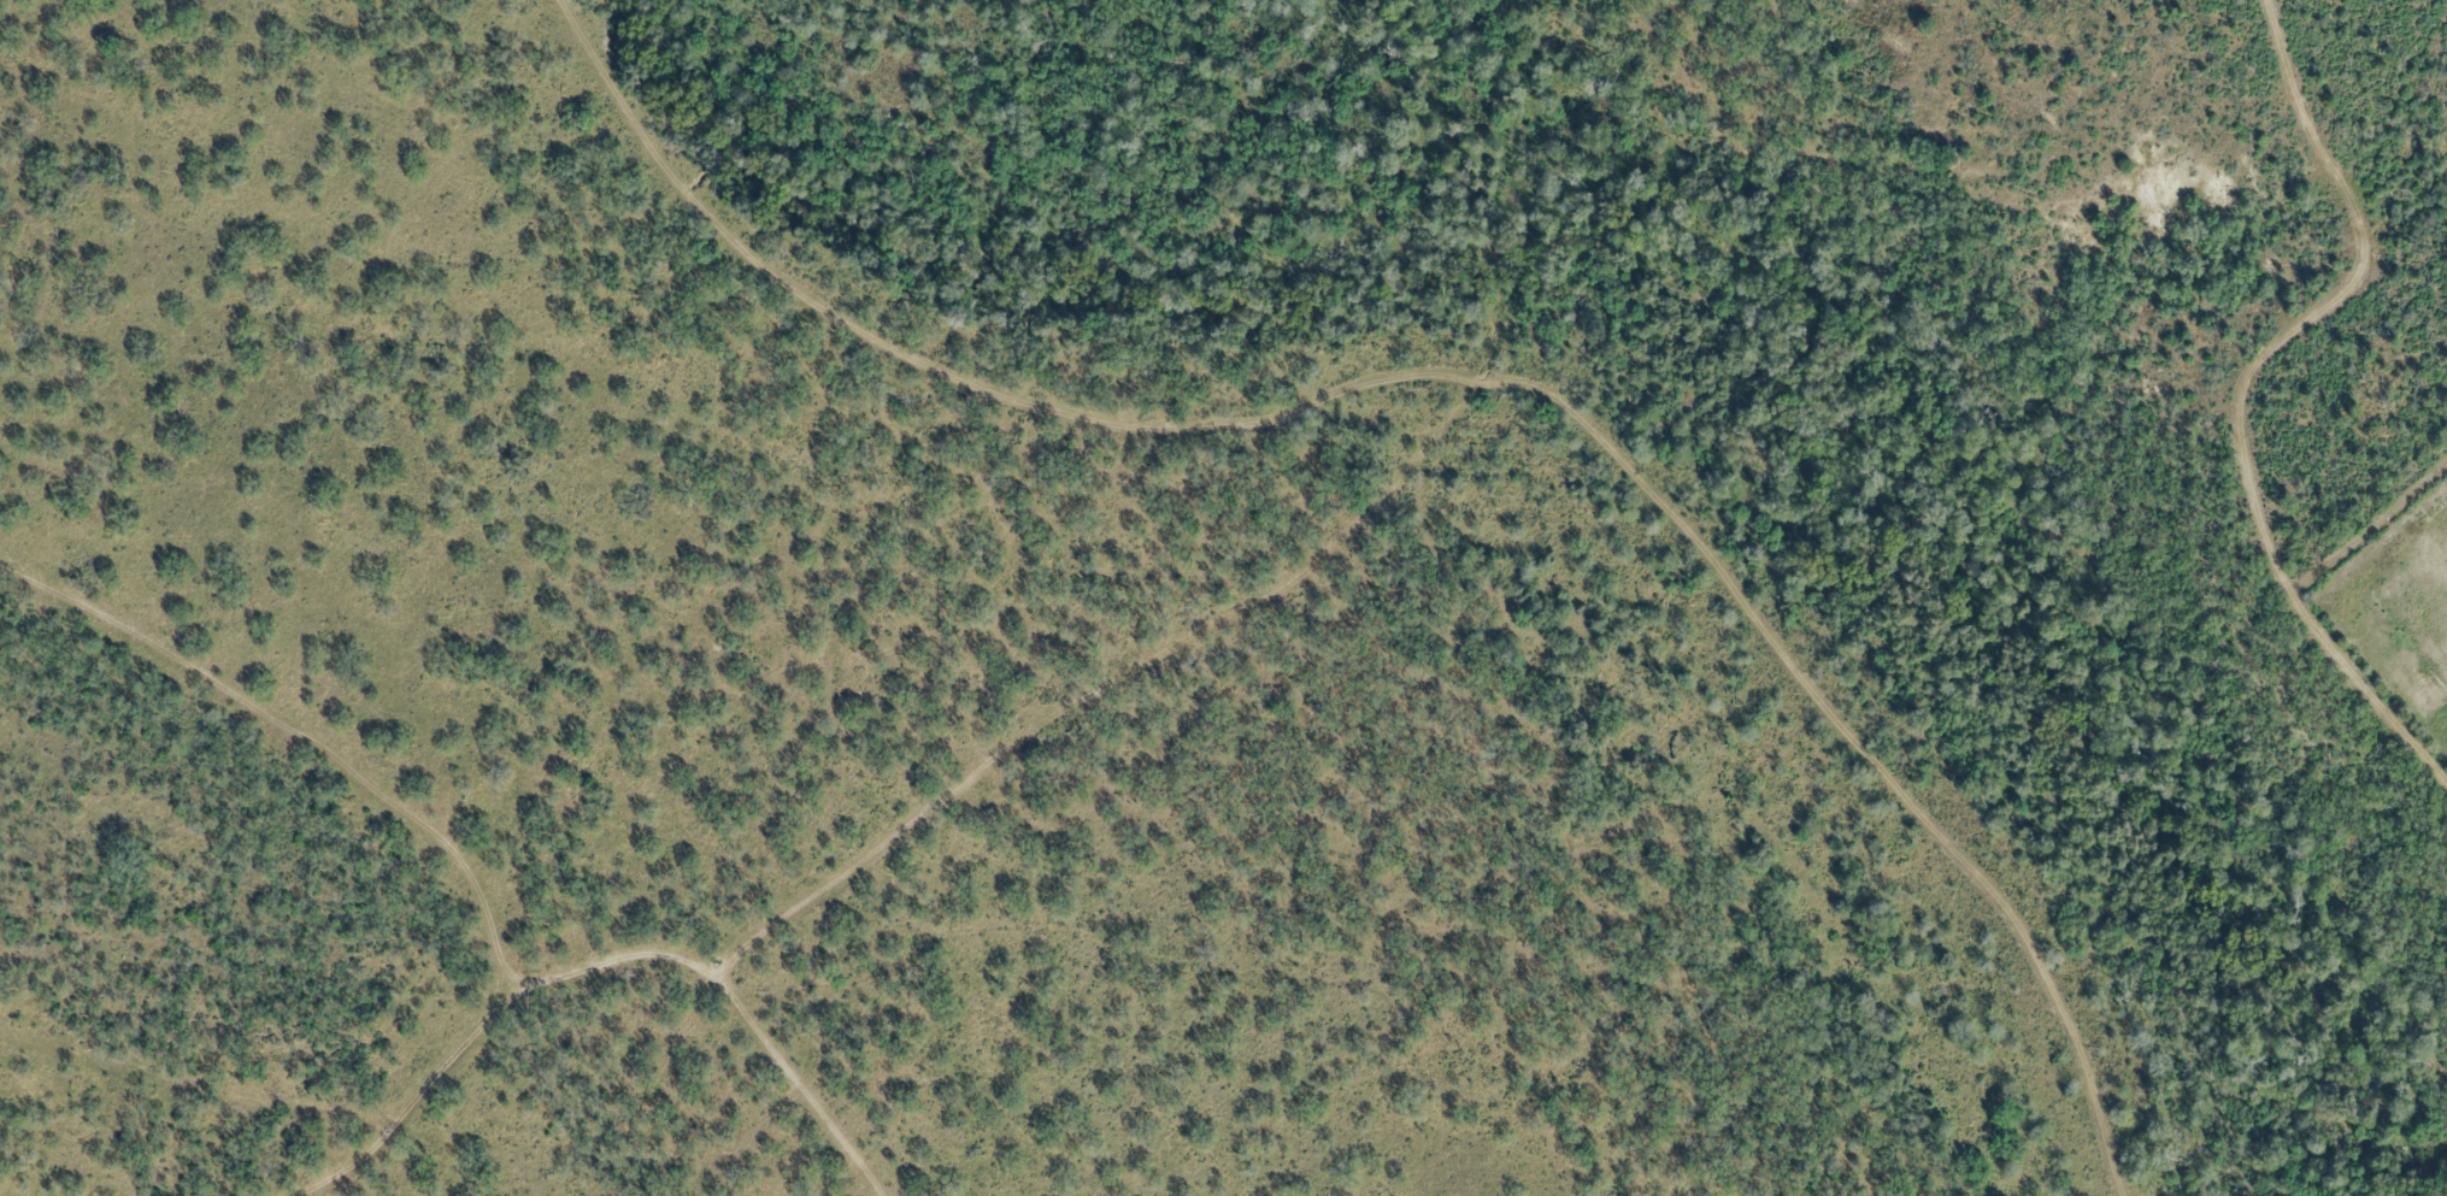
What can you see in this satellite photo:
river: (1012, 288)
river: (2006, 652)

